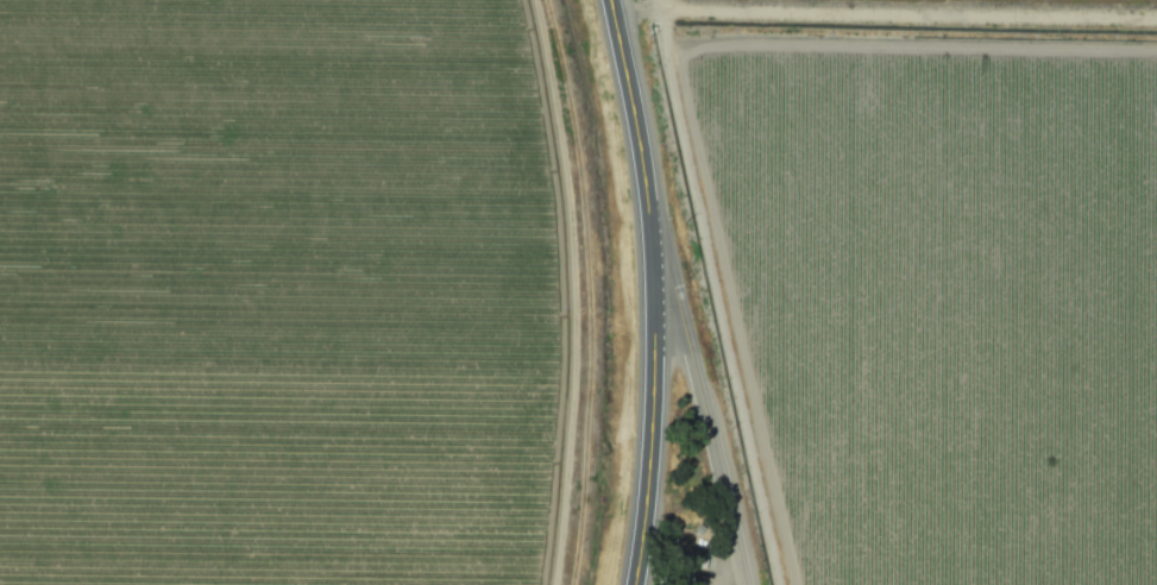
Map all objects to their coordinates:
road: (610, 11)
road: (559, 291)
crop: (298, 294)
road: (652, 301)
road: (699, 423)

